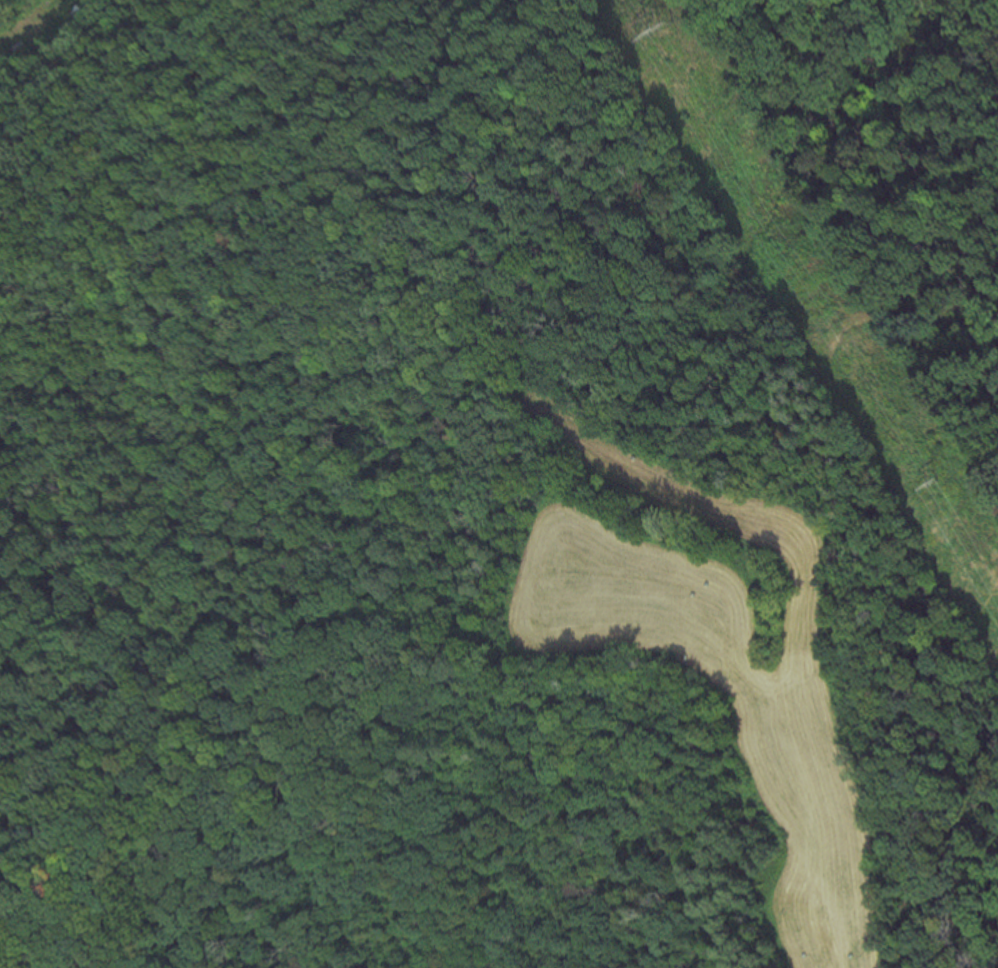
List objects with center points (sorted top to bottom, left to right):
power tower: (655, 29)
power tower: (932, 483)

